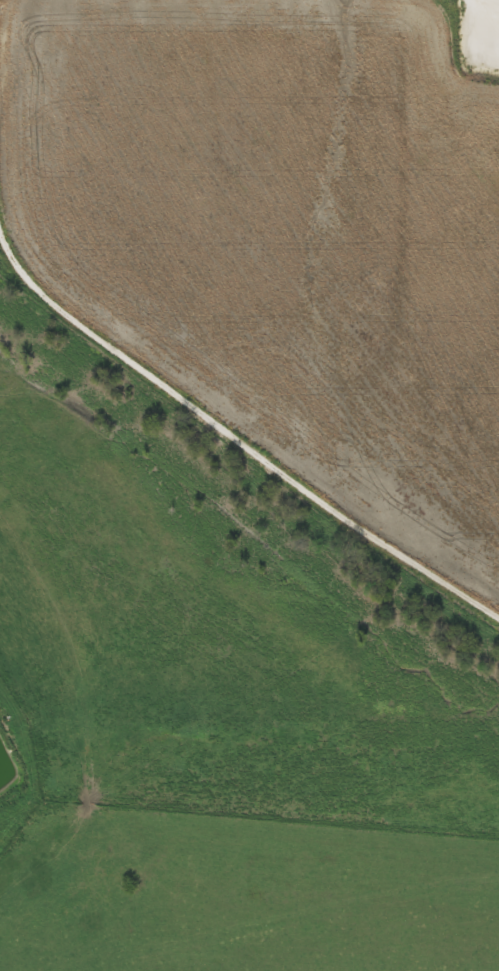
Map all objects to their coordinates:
road: (235, 437)

